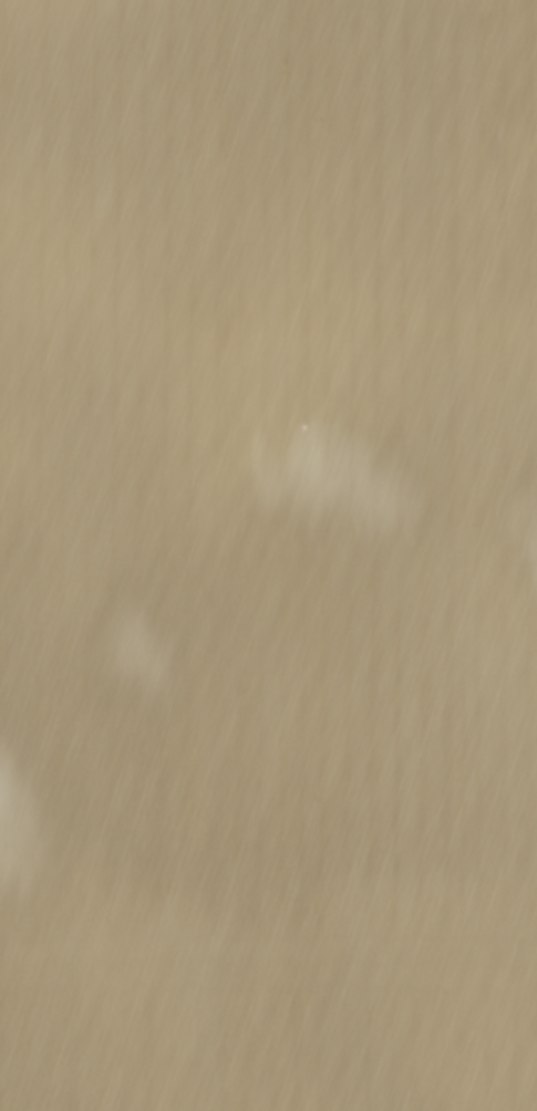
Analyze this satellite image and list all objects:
crop: (268, 555)

